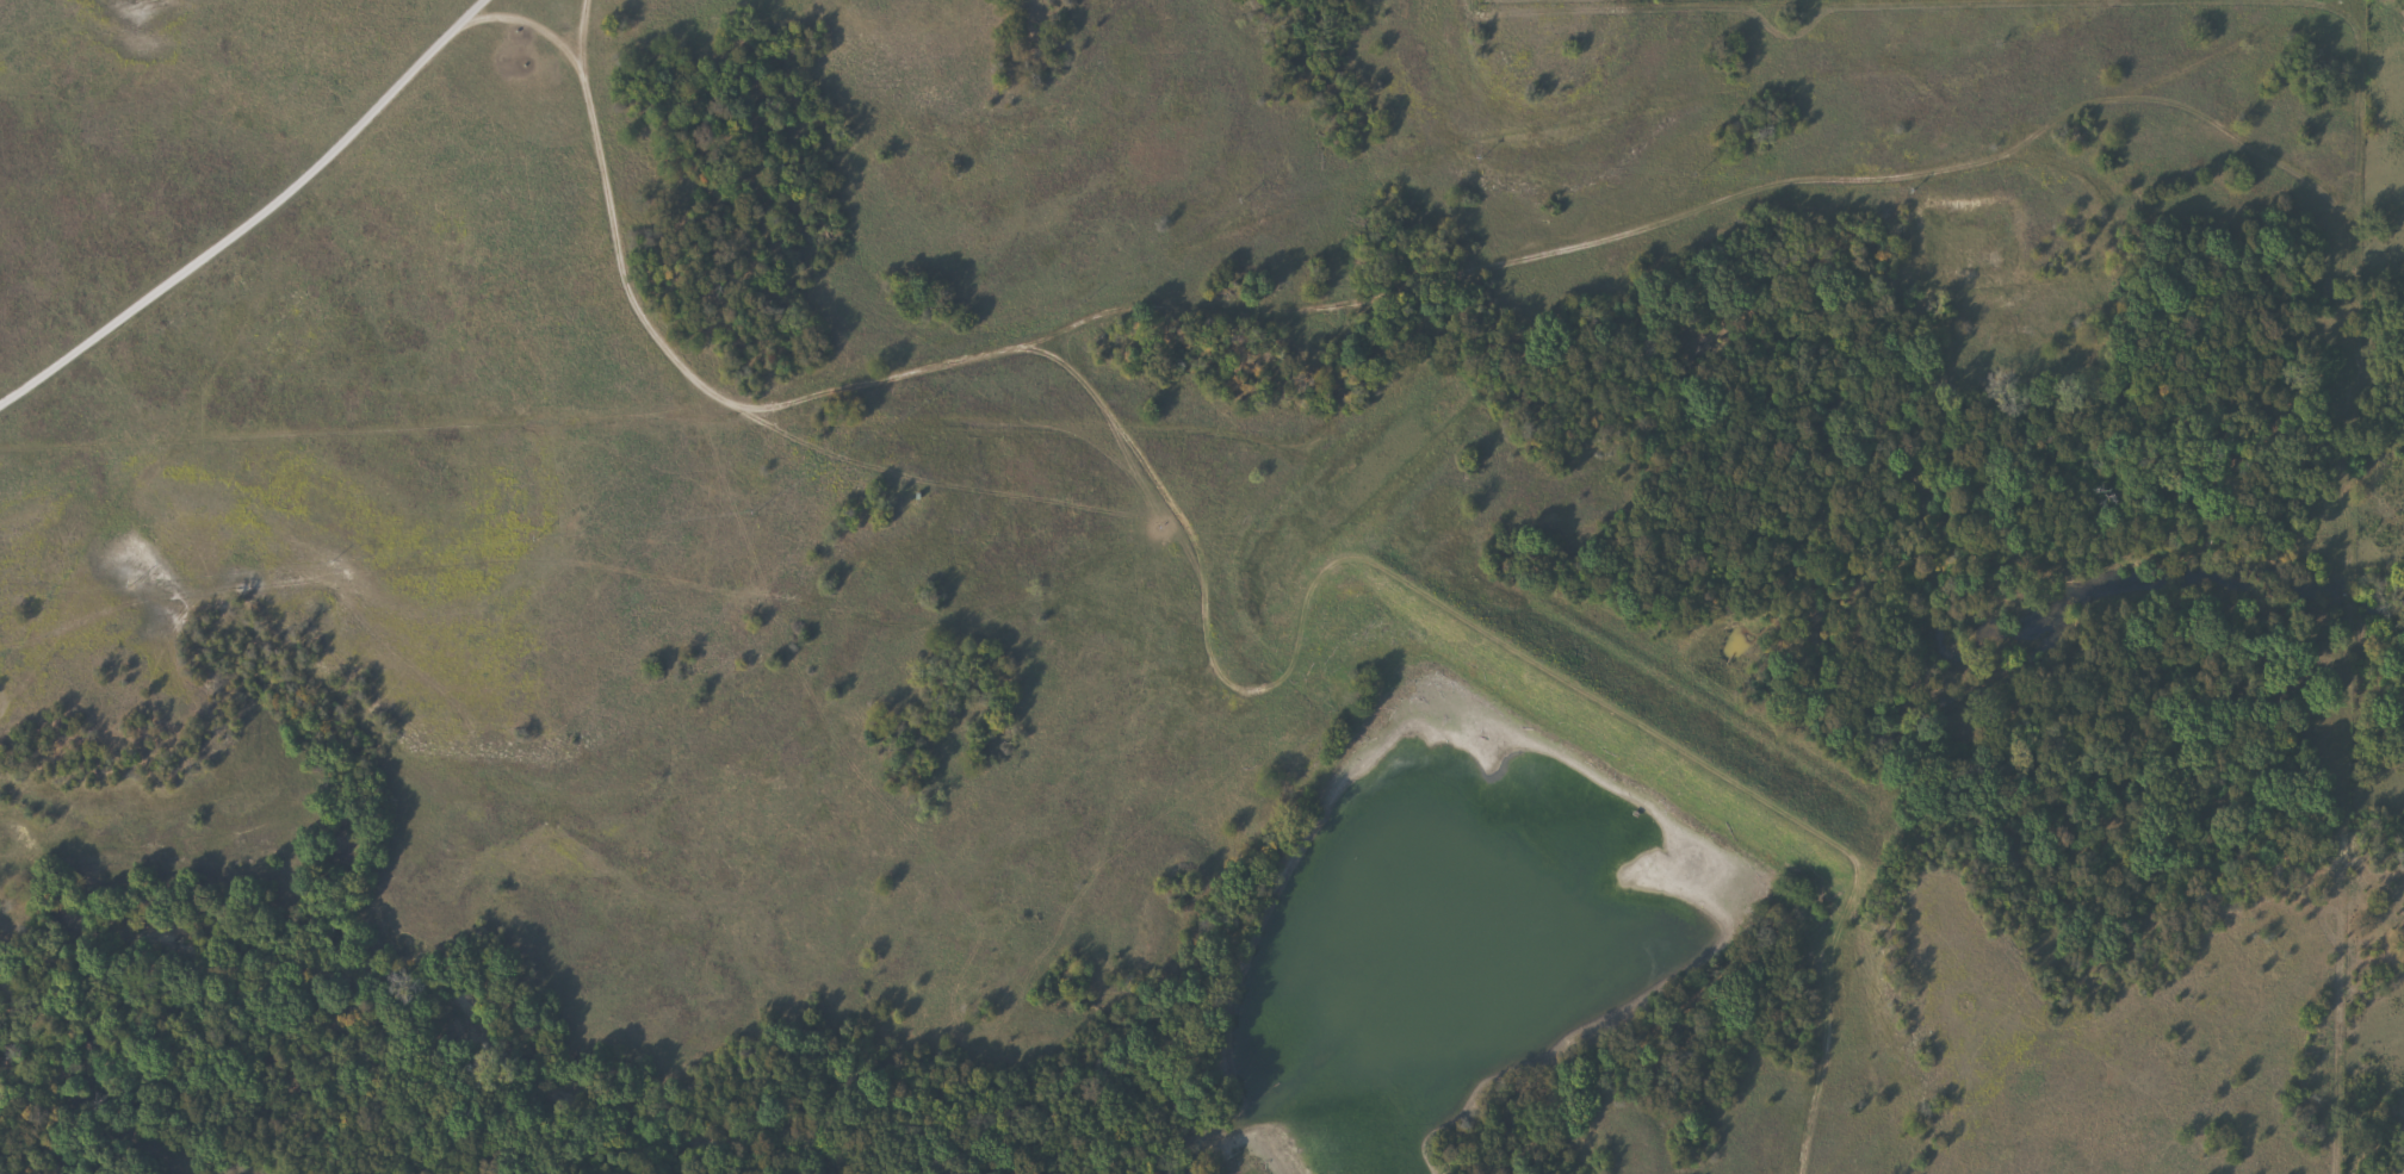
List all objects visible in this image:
road: (550, 13)
road: (2086, 182)
road: (1049, 311)

